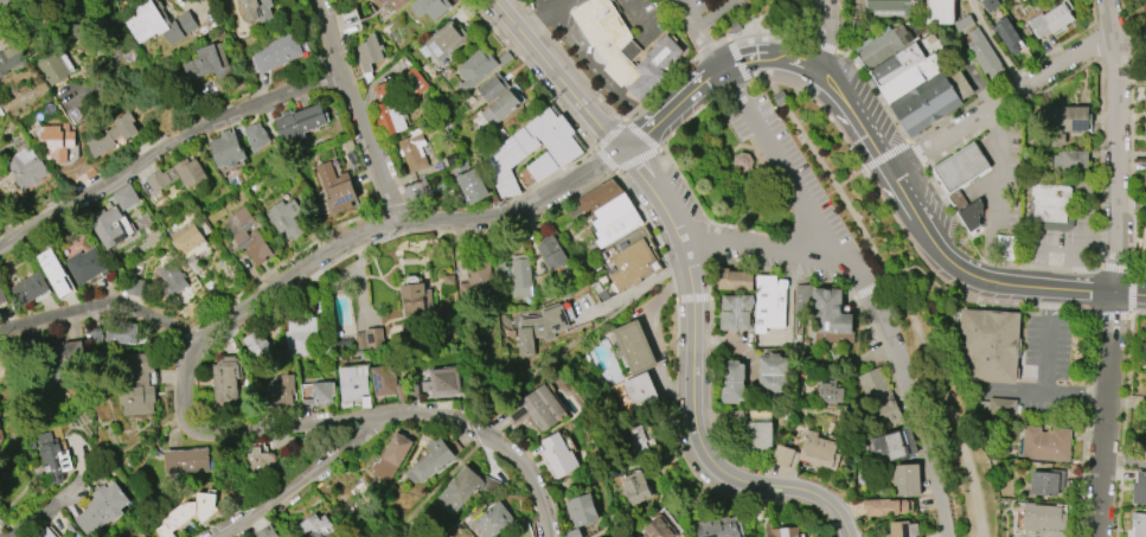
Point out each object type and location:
building: (386, 5)
road: (557, 5)
building: (990, 5)
road: (9, 6)
building: (429, 7)
parking lot: (716, 8)
building: (256, 9)
road: (768, 9)
building: (889, 9)
building: (939, 11)
road: (711, 12)
road: (747, 14)
road: (642, 15)
road: (534, 20)
building: (1052, 20)
building: (156, 21)
building: (963, 23)
road: (830, 24)
building: (735, 26)
road: (780, 27)
road: (839, 27)
road: (700, 34)
building: (1009, 37)
building: (444, 40)
road: (718, 43)
road: (993, 45)
building: (884, 46)
building: (622, 47)
building: (274, 53)
building: (985, 55)
building: (367, 56)
road: (1131, 57)
building: (1145, 57)
road: (737, 60)
road: (824, 60)
building: (9, 62)
road: (569, 62)
road: (1099, 62)
building: (896, 64)
building: (207, 65)
building: (56, 69)
road: (600, 70)
building: (473, 71)
road: (532, 73)
road: (711, 75)
road: (559, 76)
building: (910, 77)
road: (1012, 77)
road: (728, 78)
road: (760, 81)
building: (411, 83)
road: (871, 84)
road: (667, 85)
road: (741, 85)
building: (491, 88)
road: (834, 88)
building: (384, 90)
road: (728, 90)
building: (779, 97)
building: (930, 100)
building: (1145, 101)
road: (1001, 103)
building: (502, 104)
road: (358, 113)
road: (826, 114)
road: (760, 115)
building: (390, 117)
road: (687, 119)
building: (1069, 119)
building: (299, 122)
road: (609, 134)
building: (1145, 134)
building: (255, 135)
road: (641, 135)
road: (750, 139)
building: (58, 142)
building: (100, 142)
building: (1145, 142)
road: (164, 143)
road: (717, 146)
building: (225, 149)
building: (412, 149)
building: (531, 149)
road: (755, 152)
road: (917, 152)
traffic signals: (623, 153)
road: (760, 153)
road: (885, 153)
building: (1027, 155)
road: (728, 156)
road: (764, 161)
building: (1071, 161)
road: (740, 162)
building: (741, 162)
road: (634, 165)
road: (786, 166)
building: (26, 167)
road: (622, 167)
road: (776, 167)
building: (960, 167)
building: (537, 170)
road: (729, 170)
park: (726, 172)
building: (177, 175)
road: (866, 175)
parking lot: (998, 179)
building: (1145, 180)
road: (745, 181)
road: (370, 184)
building: (472, 186)
building: (335, 188)
road: (993, 194)
building: (126, 197)
building: (597, 197)
road: (821, 197)
road: (507, 199)
road: (1128, 200)
road: (947, 202)
road: (662, 204)
building: (1050, 204)
road: (1131, 205)
road: (393, 209)
building: (610, 211)
road: (702, 212)
building: (972, 216)
road: (359, 217)
road: (804, 217)
building: (284, 218)
road: (647, 219)
building: (109, 226)
road: (402, 226)
road: (792, 226)
building: (617, 228)
road: (462, 231)
road: (1089, 232)
road: (782, 235)
building: (248, 237)
building: (186, 238)
road: (710, 243)
road: (762, 243)
road: (1056, 245)
building: (1005, 247)
building: (1142, 247)
building: (552, 252)
building: (625, 263)
building: (85, 266)
road: (1038, 267)
road: (954, 268)
road: (1115, 268)
building: (499, 269)
road: (922, 269)
building: (52, 271)
road: (768, 271)
road: (268, 273)
building: (520, 277)
building: (171, 279)
building: (447, 280)
building: (734, 280)
road: (883, 280)
building: (475, 282)
building: (544, 282)
road: (673, 285)
building: (135, 287)
road: (865, 288)
building: (27, 289)
road: (630, 292)
building: (1, 298)
road: (692, 298)
building: (416, 299)
building: (802, 299)
road: (898, 300)
road: (994, 301)
road: (100, 302)
building: (768, 302)
road: (860, 309)
road: (262, 311)
building: (735, 312)
building: (828, 312)
road: (91, 313)
road: (872, 318)
building: (540, 326)
road: (708, 328)
road: (188, 331)
building: (120, 333)
road: (588, 333)
road: (210, 337)
building: (303, 338)
building: (372, 338)
building: (255, 343)
building: (634, 346)
building: (987, 346)
parking lot: (1044, 347)
road: (1049, 367)
building: (773, 375)
road: (171, 378)
building: (383, 381)
road: (710, 381)
building: (731, 382)
building: (225, 383)
building: (441, 383)
building: (351, 384)
building: (135, 385)
road: (674, 385)
road: (907, 385)
building: (281, 391)
building: (640, 392)
building: (828, 392)
building: (316, 394)
building: (796, 397)
building: (879, 401)
building: (366, 402)
building: (999, 407)
building: (537, 408)
road: (1123, 417)
road: (178, 418)
road: (352, 420)
road: (1086, 426)
building: (754, 429)
road: (699, 430)
road: (472, 431)
building: (634, 441)
building: (1045, 443)
building: (891, 445)
building: (819, 450)
building: (668, 454)
building: (1145, 454)
building: (559, 455)
building: (52, 456)
building: (390, 456)
building: (783, 456)
building: (433, 459)
building: (185, 460)
building: (258, 461)
road: (313, 478)
building: (905, 480)
building: (1044, 484)
building: (636, 488)
building: (1139, 490)
building: (454, 494)
road: (763, 501)
building: (100, 507)
building: (885, 507)
road: (47, 510)
building: (582, 510)
building: (185, 513)
building: (1044, 517)
building: (492, 520)
road: (838, 524)
building: (1139, 524)
building: (316, 528)
building: (717, 528)
building: (658, 529)
building: (899, 529)
building: (781, 531)
building: (265, 532)
road: (391, 532)
road: (833, 532)
building: (45, 533)
building: (572, 533)
building: (142, 536)

